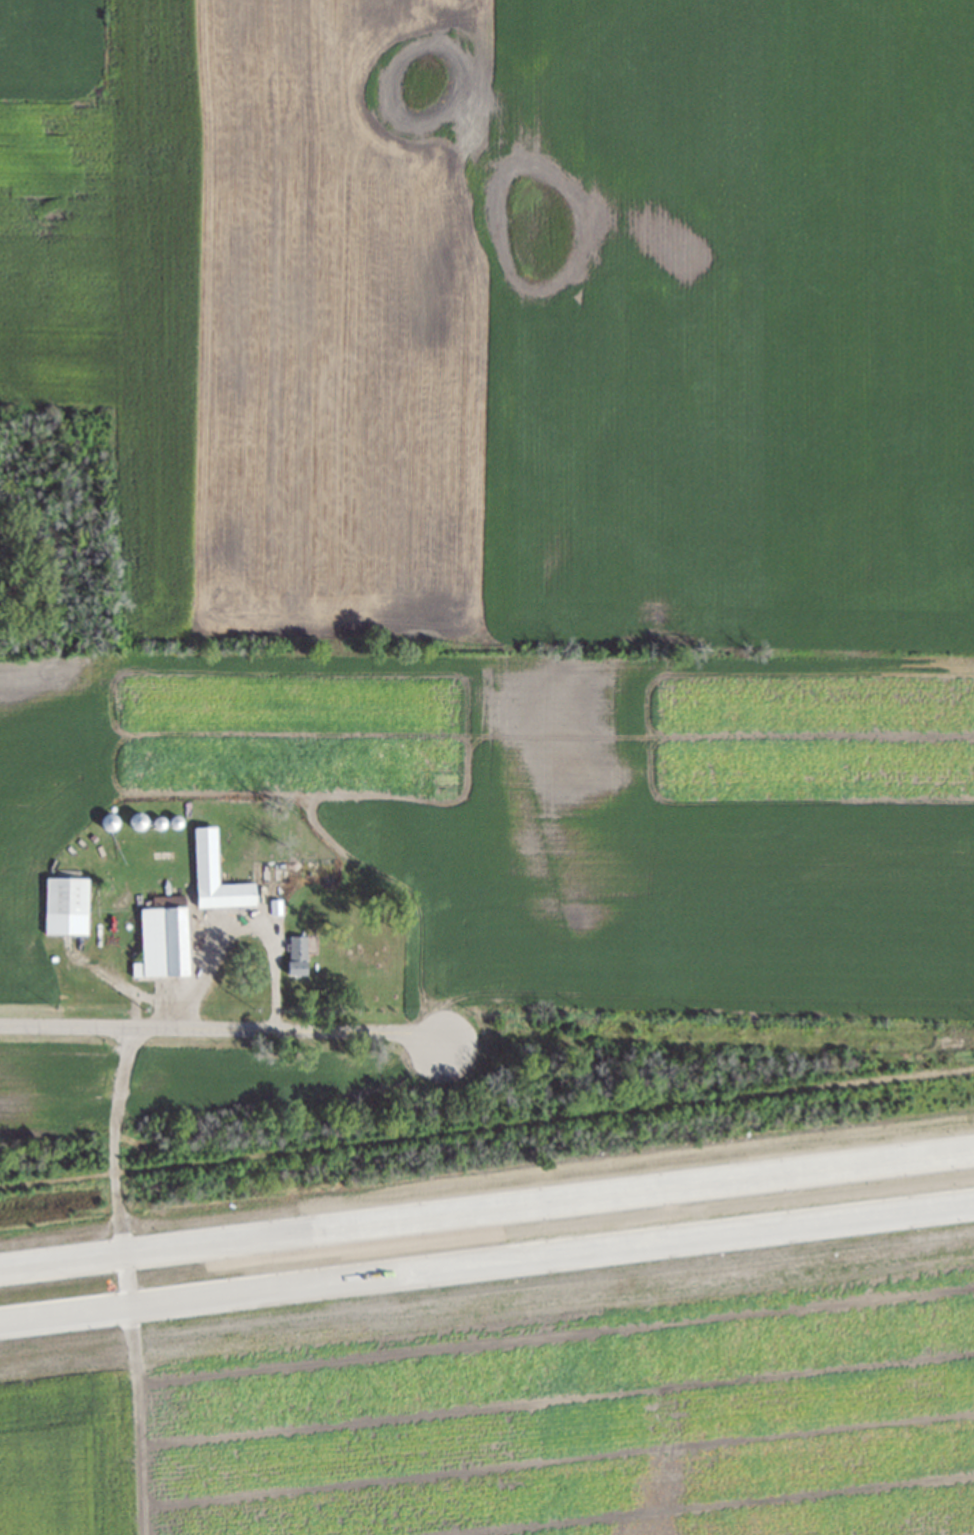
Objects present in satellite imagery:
crop: (523, 483)
building: (216, 875)
building: (66, 905)
road: (243, 925)
building: (163, 938)
building: (298, 954)
road: (228, 1031)
road: (115, 1166)
road: (487, 1206)
road: (551, 1250)
road: (64, 1312)
crop: (524, 1404)
road: (134, 1419)

